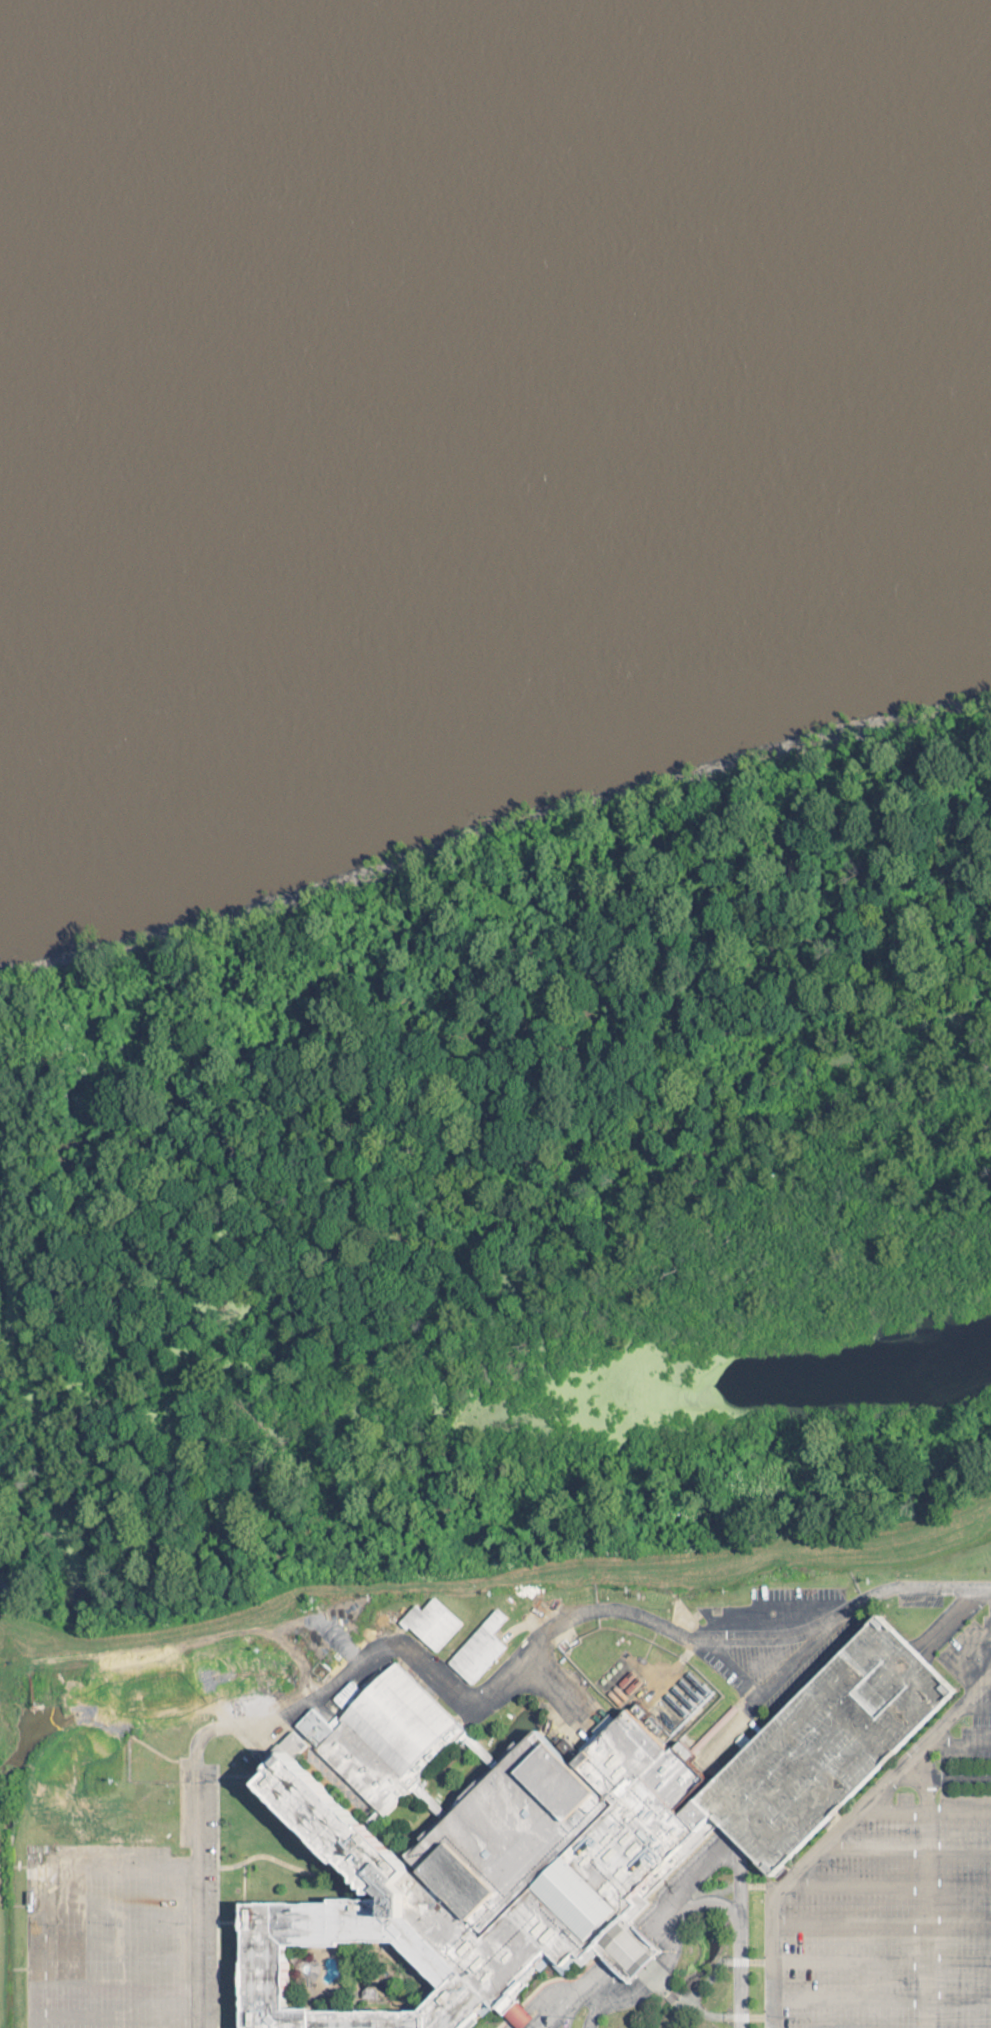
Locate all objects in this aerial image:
river: (48, 10)
road: (926, 1587)
building: (436, 1624)
building: (483, 1650)
road: (501, 1678)
road: (945, 1726)
parking lot: (835, 1745)
building: (541, 1837)
road: (820, 1847)
road: (705, 1863)
road: (926, 1902)
road: (195, 1903)
road: (740, 1934)
road: (648, 1937)
road: (580, 2001)
road: (561, 2019)
building: (625, 2023)

